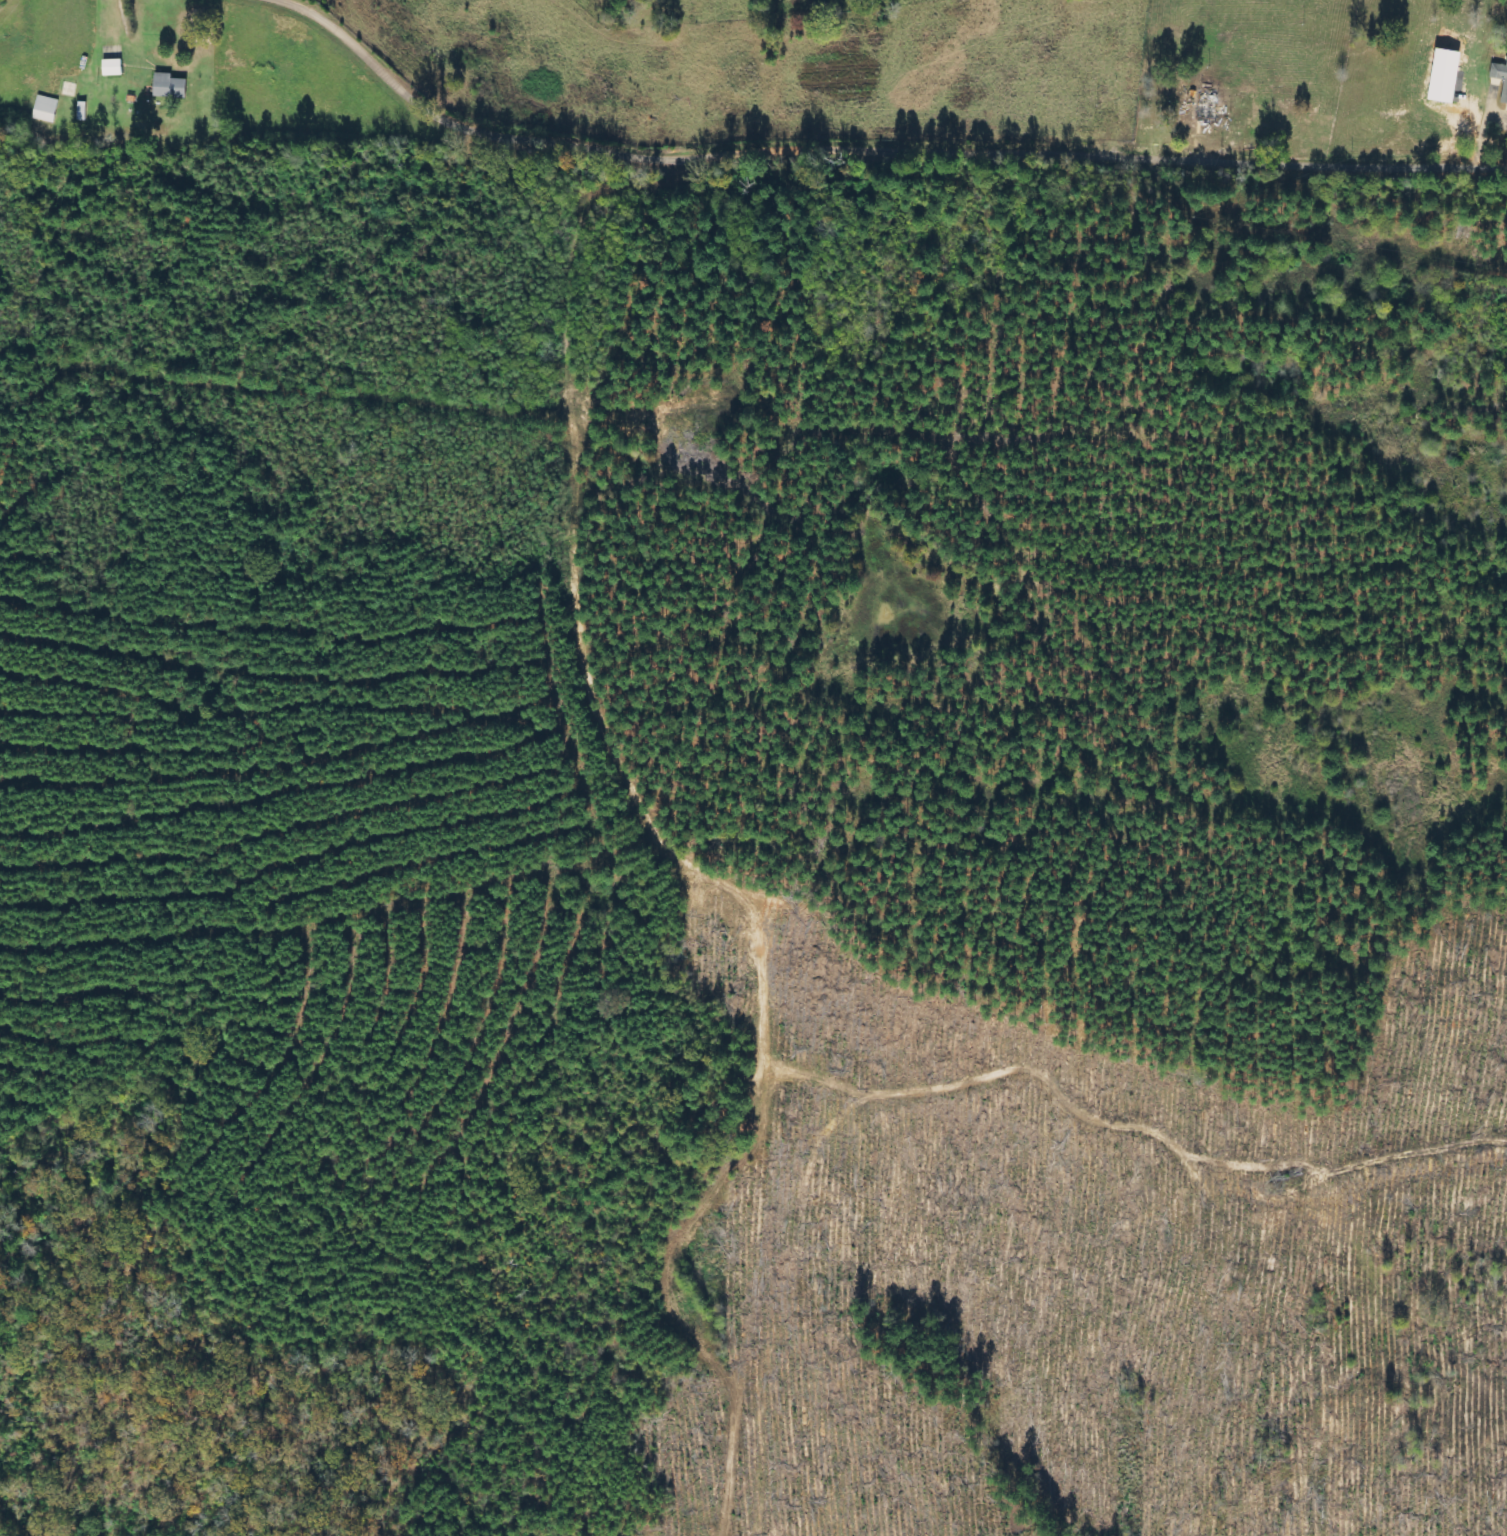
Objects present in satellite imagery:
building: (1500, 77)
road: (1477, 84)
building: (168, 85)
building: (1205, 107)
building: (45, 108)
road: (870, 150)

